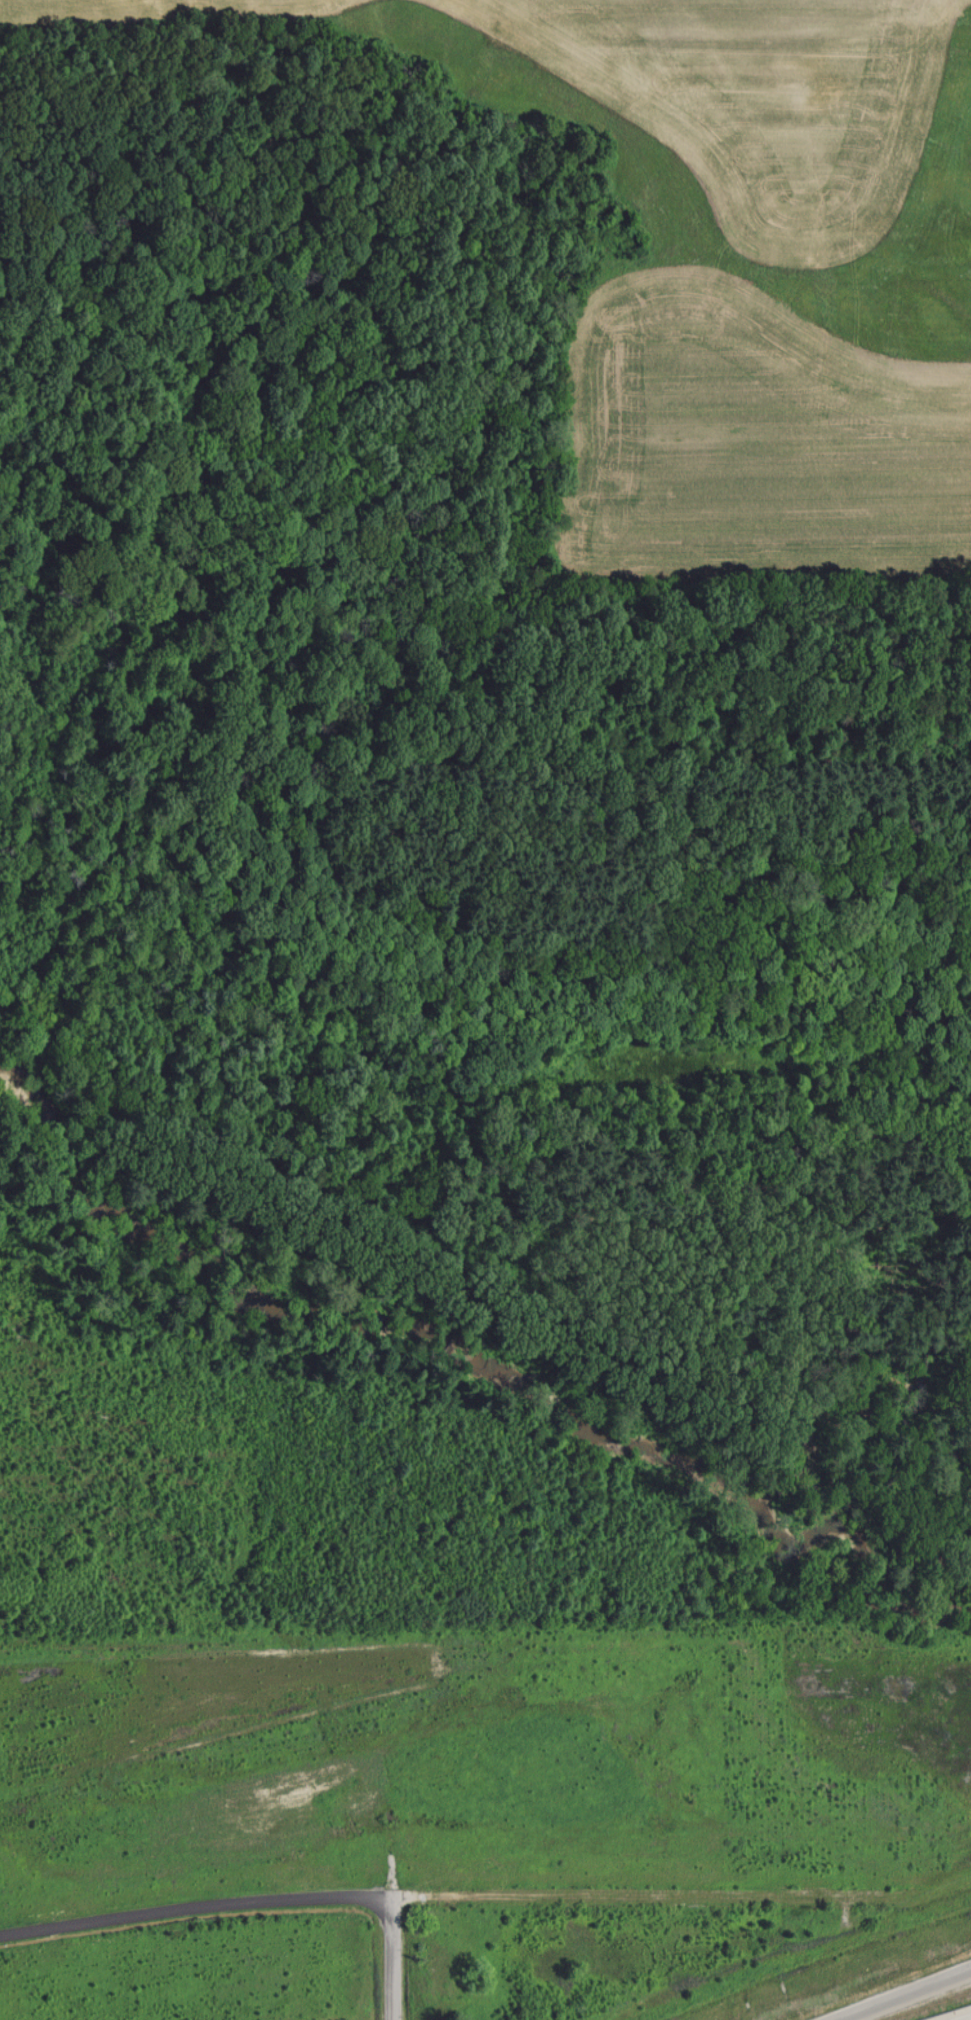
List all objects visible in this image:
road: (194, 1914)
road: (396, 1963)
road: (909, 1995)
road: (966, 2018)

